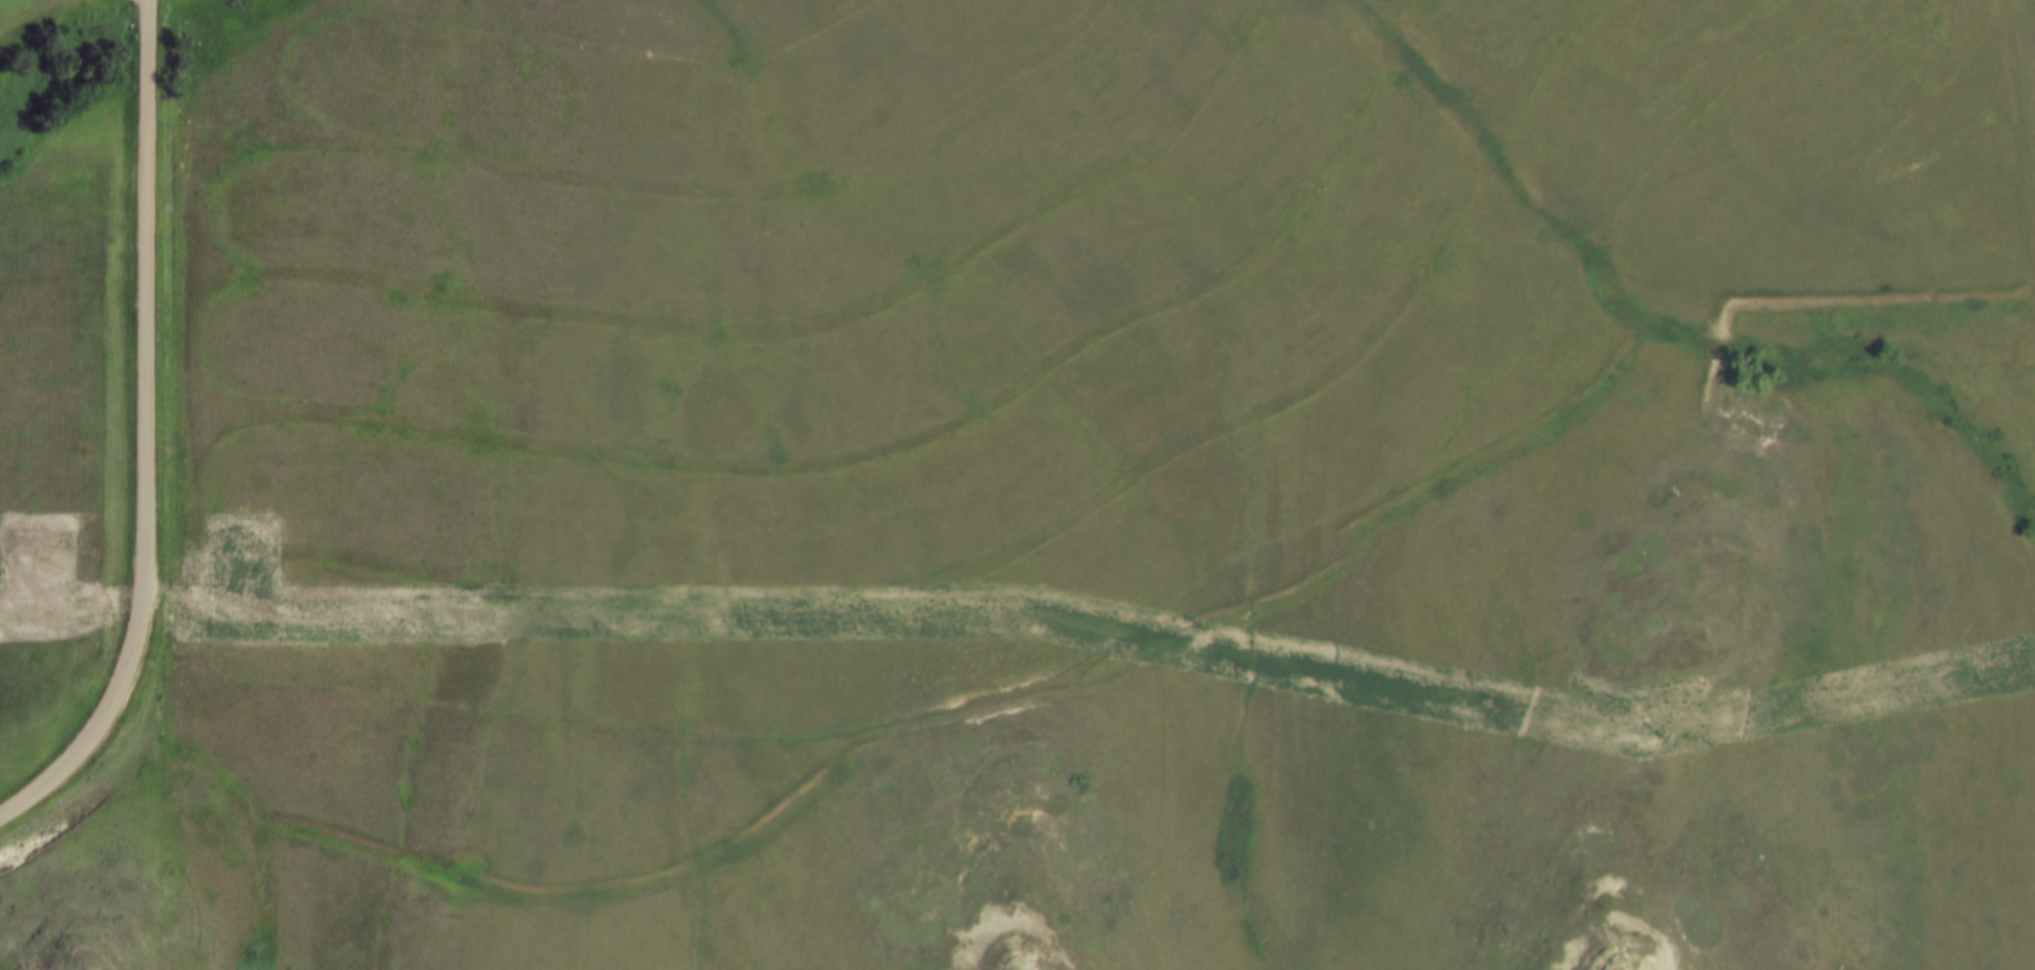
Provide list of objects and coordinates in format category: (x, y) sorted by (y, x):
road: (57, 23)
road: (150, 434)

